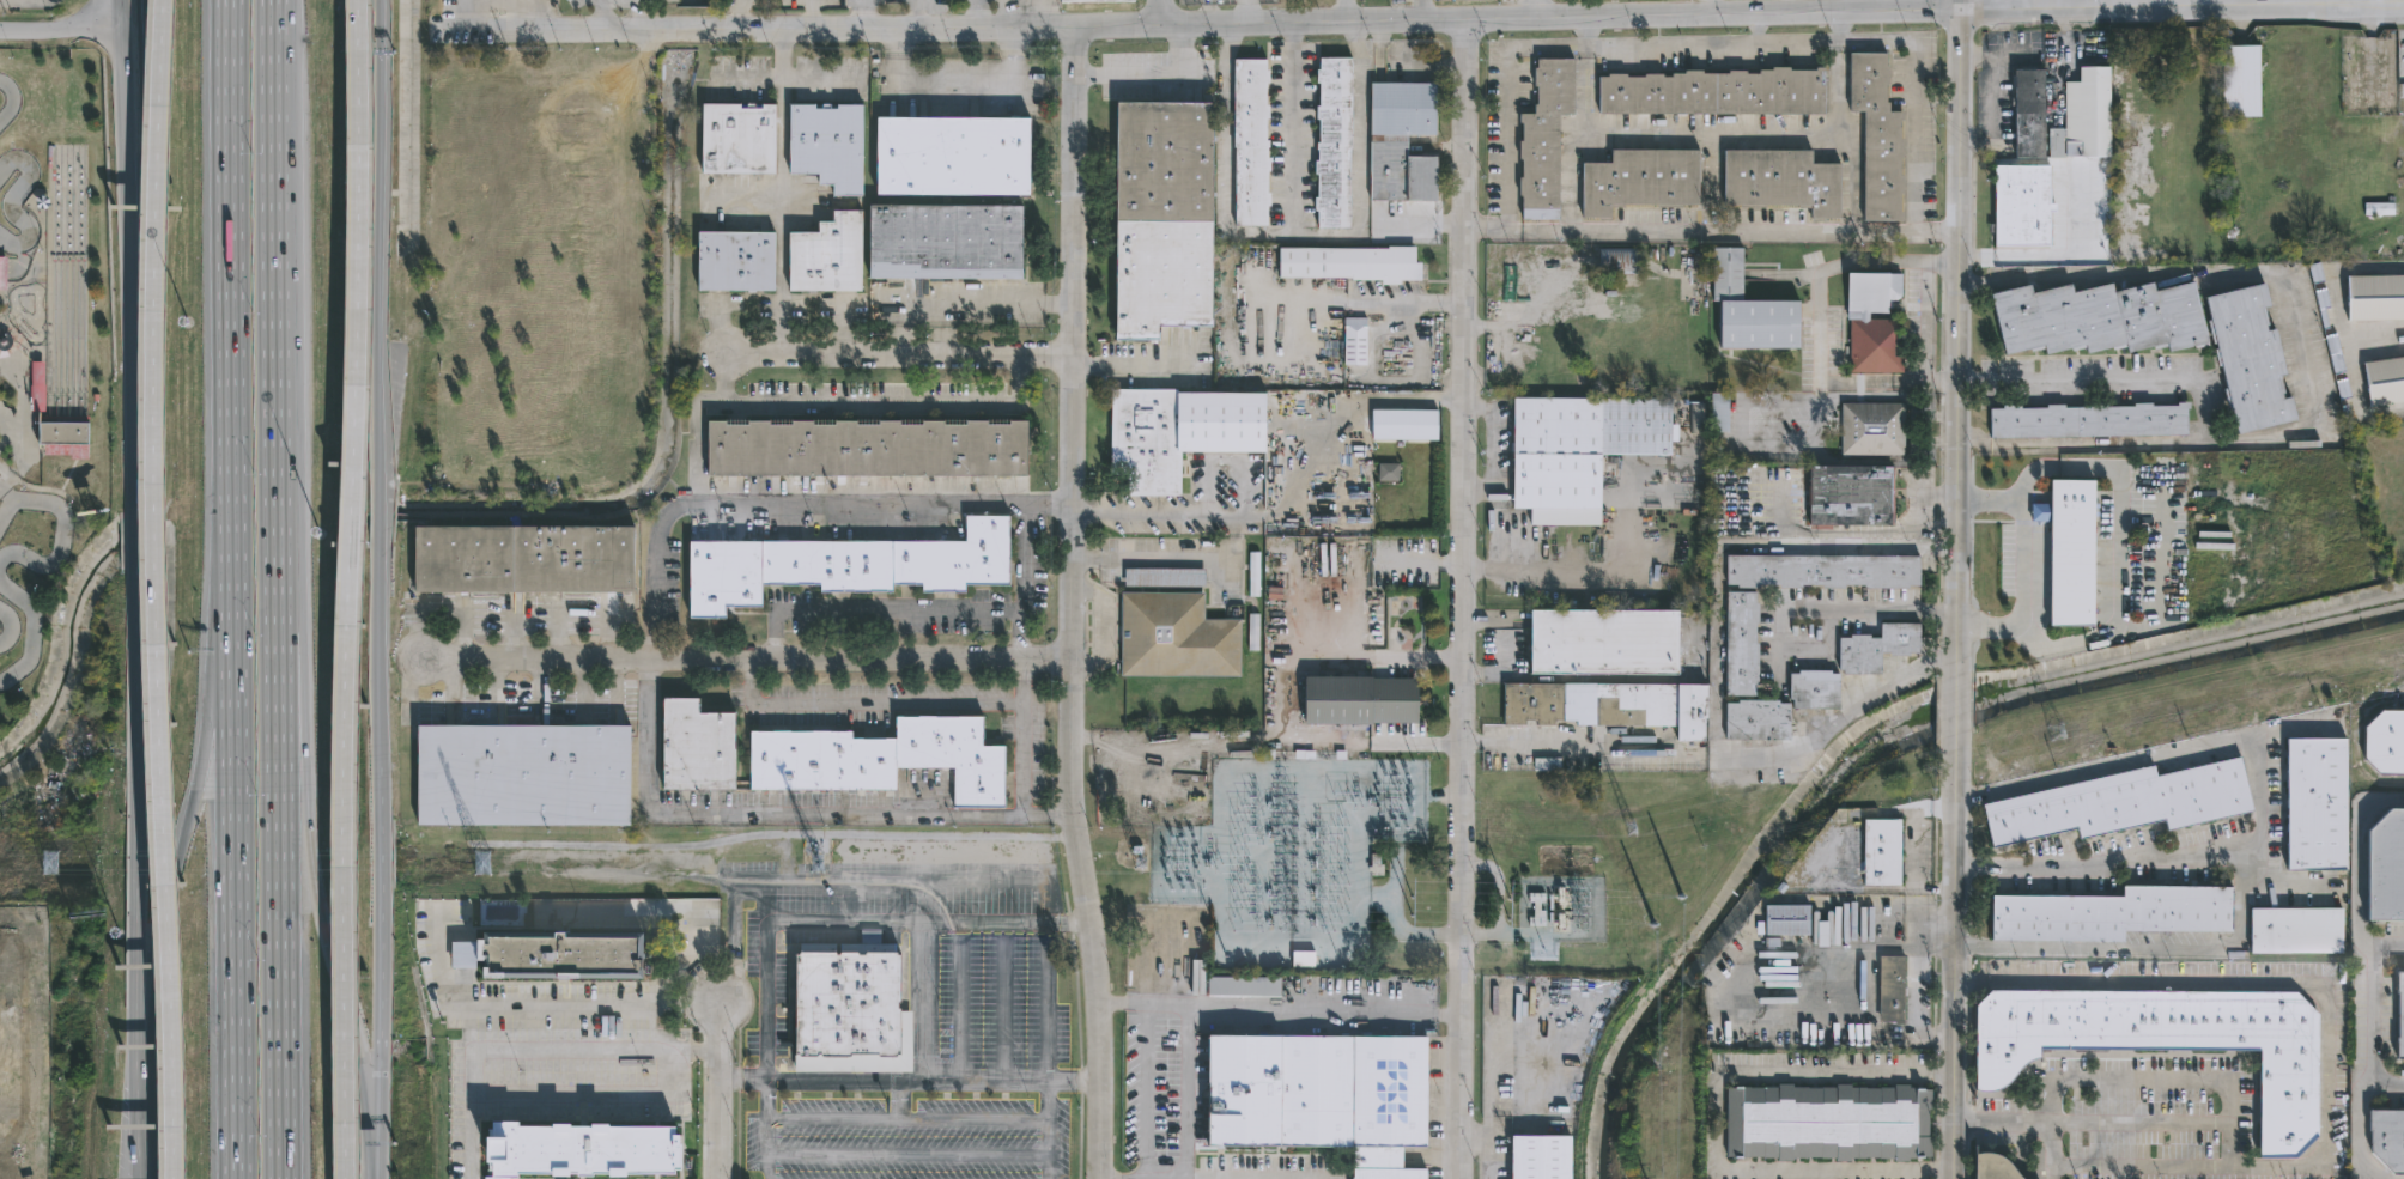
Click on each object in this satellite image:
road: (20, 0)
road: (862, 0)
road: (2174, 2)
road: (2058, 4)
road: (2183, 5)
road: (1537, 7)
road: (119, 8)
road: (1343, 8)
road: (1419, 8)
road: (1164, 10)
road: (863, 12)
road: (976, 12)
road: (739, 13)
road: (812, 13)
road: (600, 14)
road: (645, 14)
road: (1562, 14)
road: (940, 24)
road: (692, 28)
road: (551, 29)
road: (60, 30)
road: (1766, 31)
road: (1723, 50)
toll booth: (378, 54)
road: (1401, 69)
road: (1160, 77)
road: (747, 78)
building: (2240, 80)
road: (952, 89)
building: (1713, 93)
raceway: (12, 101)
road: (148, 102)
building: (2024, 114)
building: (2082, 116)
road: (1714, 130)
building: (1876, 135)
building: (1543, 139)
building: (737, 140)
building: (1402, 142)
building: (1250, 144)
building: (1331, 144)
building: (827, 146)
building: (954, 157)
road: (1224, 158)
road: (125, 160)
building: (1783, 180)
building: (1637, 181)
road: (781, 189)
raceway: (11, 201)
building: (2018, 203)
road: (377, 208)
building: (2379, 211)
building: (1161, 218)
road: (1499, 231)
road: (1706, 231)
road: (1920, 231)
road: (1324, 238)
building: (946, 243)
road: (140, 255)
building: (826, 256)
building: (1620, 261)
building: (735, 262)
building: (1349, 266)
building: (5, 273)
road: (2248, 274)
building: (1872, 292)
building: (2373, 297)
road: (1356, 300)
road: (982, 303)
building: (1748, 309)
building: (2098, 320)
road: (1819, 322)
road: (1959, 338)
theme park: (47, 339)
building: (10, 341)
building: (1358, 341)
building: (1869, 347)
road: (900, 355)
building: (2250, 359)
road: (233, 364)
road: (1131, 364)
building: (2382, 381)
road: (869, 402)
road: (1452, 402)
building: (1716, 413)
road: (2204, 418)
building: (2087, 423)
road: (1338, 427)
building: (1870, 430)
building: (69, 433)
building: (1174, 436)
building: (1578, 446)
building: (867, 449)
road: (1497, 449)
road: (1074, 455)
building: (1389, 475)
building: (1852, 496)
road: (376, 500)
road: (795, 504)
road: (1167, 513)
road: (1280, 513)
building: (1565, 518)
raceway: (62, 529)
road: (2120, 546)
road: (1633, 549)
building: (2070, 553)
road: (1022, 555)
road: (1165, 558)
building: (524, 560)
road: (2020, 564)
building: (849, 566)
building: (1823, 571)
building: (1252, 575)
road: (158, 589)
road: (278, 589)
road: (352, 589)
road: (1464, 597)
road: (897, 607)
road: (1809, 612)
raceway: (10, 626)
building: (1173, 628)
raceway: (32, 632)
road: (1112, 632)
building: (1602, 643)
building: (1737, 644)
road: (1282, 648)
building: (1877, 648)
road: (743, 658)
road: (376, 675)
road: (134, 676)
building: (1813, 689)
building: (1360, 703)
road: (887, 705)
building: (1607, 706)
road: (1957, 706)
road: (292, 712)
building: (1755, 721)
road: (1840, 722)
power tower: (2054, 734)
building: (2382, 745)
road: (1582, 746)
building: (698, 747)
building: (882, 758)
road: (1027, 760)
building: (523, 774)
road: (210, 782)
road: (2258, 791)
building: (2119, 803)
building: (2315, 806)
road: (783, 812)
power tower: (1631, 829)
building: (1877, 853)
power substation: (1288, 859)
power tower: (74, 865)
power tower: (432, 865)
power tower: (787, 865)
power tower: (1140, 865)
building: (2387, 870)
road: (909, 880)
road: (2359, 880)
road: (169, 894)
road: (317, 898)
road: (1067, 904)
road: (1091, 906)
power substation: (1560, 908)
road: (669, 911)
building: (2111, 916)
building: (1783, 920)
road: (380, 923)
road: (844, 923)
road: (1008, 924)
road: (1070, 924)
building: (2296, 931)
building: (1197, 937)
road: (2144, 949)
road: (1937, 953)
road: (235, 954)
building: (550, 956)
road: (1953, 958)
road: (766, 959)
road: (735, 973)
building: (1242, 987)
building: (1888, 987)
road: (1077, 1001)
road: (148, 1002)
road: (923, 1002)
building: (848, 1003)
road: (1111, 1005)
road: (1131, 1005)
road: (539, 1007)
road: (686, 1008)
road: (1295, 1008)
road: (1918, 1008)
road: (1422, 1011)
road: (1452, 1011)
building: (2398, 1015)
road: (698, 1027)
building: (2166, 1043)
road: (739, 1047)
road: (532, 1050)
road: (704, 1050)
road: (368, 1051)
road: (1100, 1051)
road: (2326, 1059)
road: (1186, 1068)
road: (2361, 1069)
road: (1941, 1076)
road: (739, 1078)
road: (741, 1080)
road: (832, 1080)
road: (911, 1081)
road: (987, 1081)
road: (1075, 1081)
road: (1081, 1081)
road: (2382, 1086)
road: (593, 1090)
road: (717, 1092)
road: (1148, 1093)
building: (1319, 1094)
road: (766, 1099)
road: (899, 1100)
road: (142, 1113)
road: (704, 1119)
road: (803, 1119)
road: (975, 1119)
road: (1714, 1119)
building: (1825, 1120)
road: (2023, 1122)
road: (2138, 1122)
road: (378, 1129)
road: (1049, 1129)
road: (739, 1135)
road: (1080, 1136)
building: (2386, 1137)
building: (578, 1148)
road: (907, 1155)
building: (1537, 1156)
building: (1993, 1166)
road: (2118, 1167)
road: (1939, 1171)
road: (2052, 1173)

